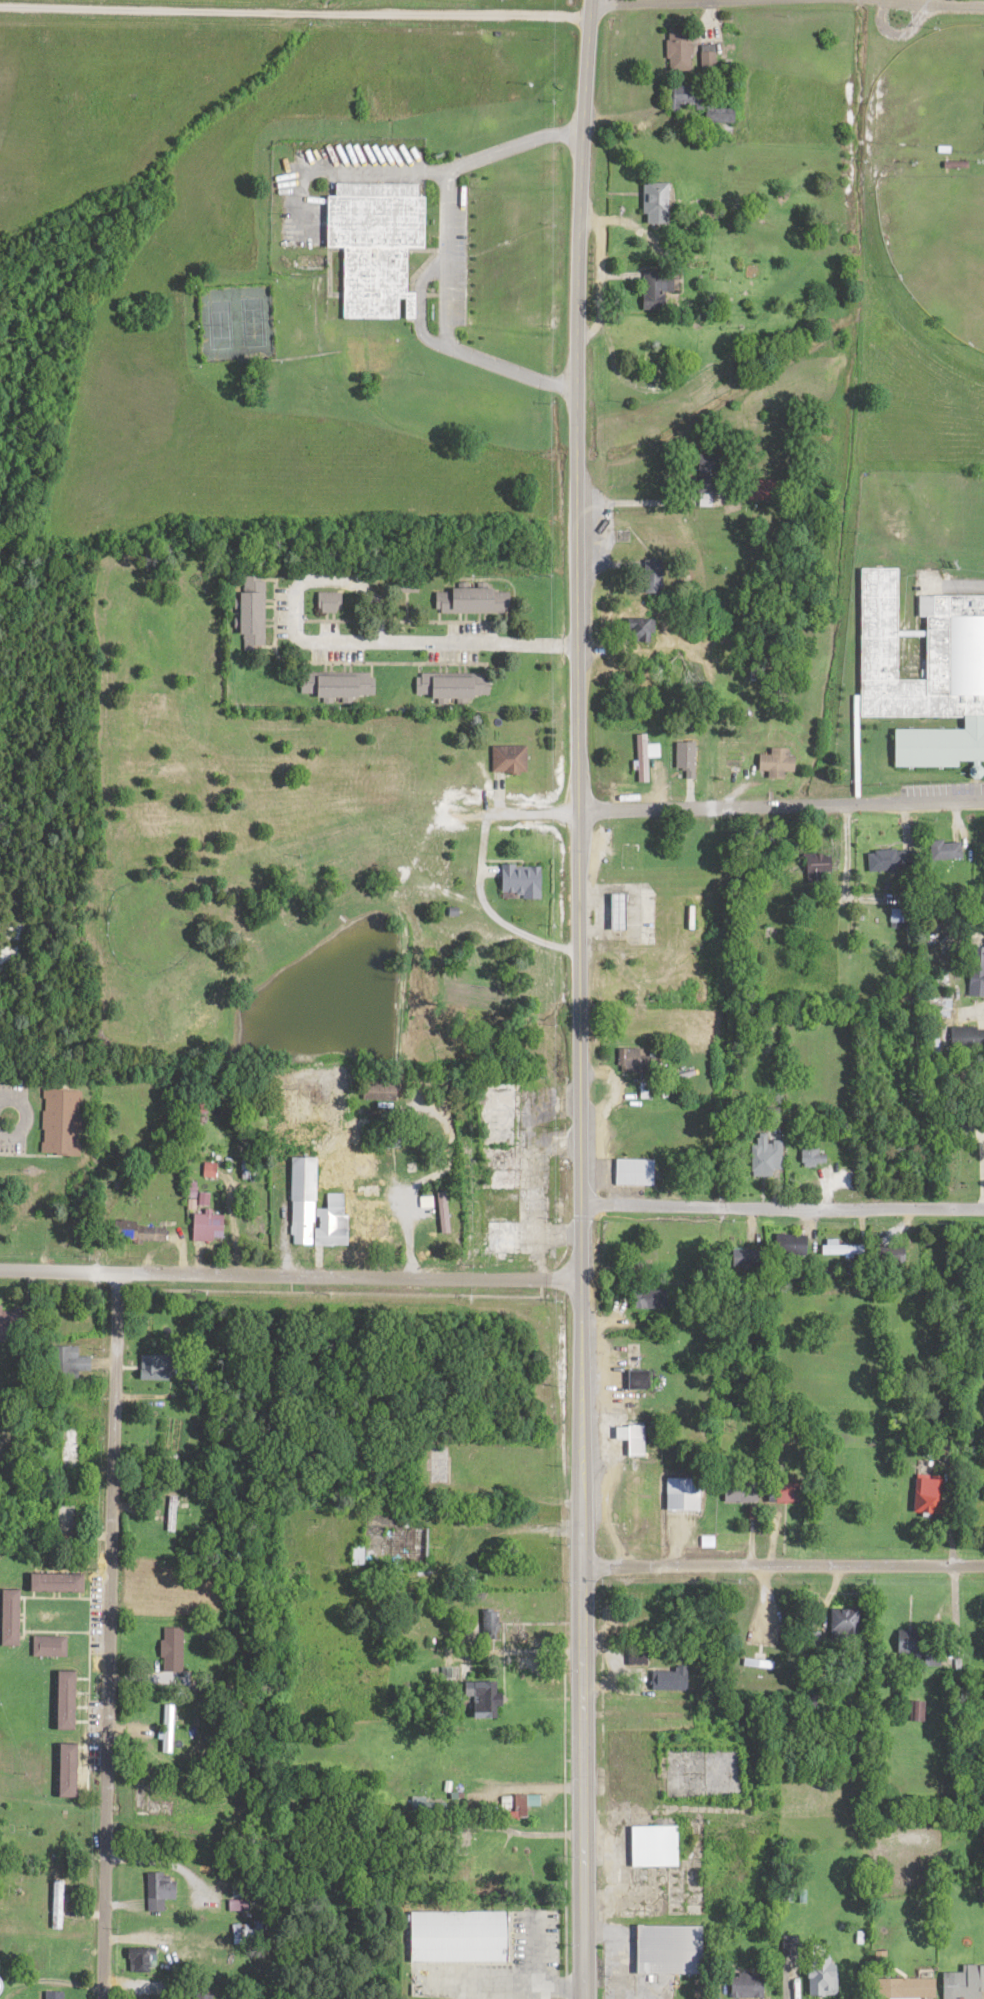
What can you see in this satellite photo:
road: (787, 0)
road: (336, 3)
building: (681, 52)
building: (709, 64)
park: (932, 97)
building: (687, 99)
building: (659, 206)
building: (377, 246)
park: (938, 247)
road: (445, 257)
building: (659, 292)
park: (253, 324)
park: (217, 326)
building: (635, 330)
building: (710, 478)
building: (769, 493)
building: (654, 579)
building: (407, 585)
building: (475, 603)
building: (331, 605)
building: (254, 616)
building: (956, 650)
building: (338, 687)
building: (454, 688)
building: (645, 760)
building: (510, 762)
building: (686, 762)
building: (732, 765)
building: (779, 765)
road: (781, 809)
building: (947, 853)
building: (889, 862)
building: (820, 869)
building: (525, 883)
building: (622, 914)
road: (489, 915)
building: (901, 920)
building: (977, 972)
road: (579, 999)
building: (968, 1040)
building: (633, 1064)
building: (383, 1094)
road: (4, 1117)
building: (62, 1124)
building: (768, 1158)
building: (814, 1159)
building: (368, 1171)
building: (251, 1172)
building: (211, 1173)
building: (636, 1175)
building: (507, 1183)
road: (421, 1188)
building: (204, 1202)
building: (307, 1203)
road: (782, 1212)
building: (446, 1216)
building: (338, 1223)
building: (210, 1229)
building: (372, 1230)
building: (143, 1235)
building: (507, 1241)
building: (793, 1248)
building: (844, 1253)
building: (898, 1258)
road: (289, 1279)
building: (651, 1302)
building: (72, 1363)
building: (165, 1368)
building: (642, 1382)
building: (636, 1442)
building: (71, 1448)
building: (440, 1467)
building: (786, 1495)
building: (685, 1497)
building: (931, 1497)
building: (173, 1516)
building: (67, 1524)
building: (389, 1540)
building: (359, 1557)
road: (782, 1570)
building: (59, 1585)
building: (12, 1621)
building: (847, 1624)
building: (491, 1628)
building: (977, 1629)
road: (109, 1637)
building: (913, 1645)
building: (51, 1649)
building: (174, 1652)
building: (673, 1682)
building: (68, 1703)
building: (484, 1703)
building: (919, 1714)
building: (169, 1732)
building: (71, 1774)
building: (148, 1804)
building: (522, 1808)
building: (656, 1849)
building: (161, 1893)
building: (58, 1908)
building: (240, 1908)
building: (174, 1936)
building: (244, 1937)
building: (792, 1949)
building: (672, 1953)
building: (144, 1963)
building: (522, 1964)
building: (824, 1974)
building: (969, 1984)
building: (748, 1987)
building: (906, 1990)
building: (10, 1992)
building: (55, 1996)
building: (203, 1997)

